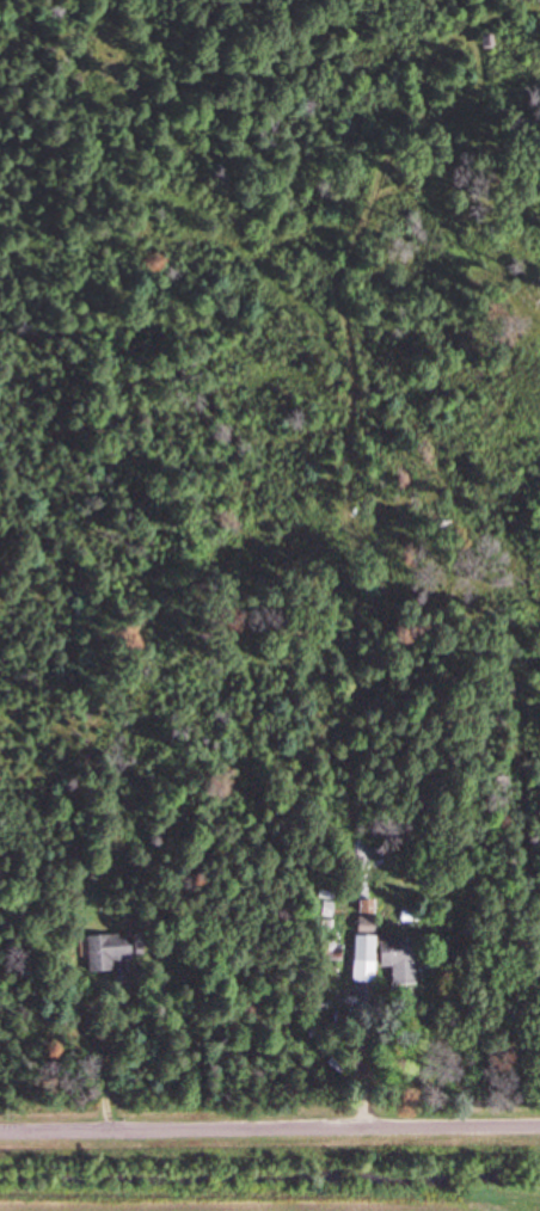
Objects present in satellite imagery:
building: (370, 927)
building: (111, 952)
building: (369, 960)
building: (403, 960)
road: (270, 1129)
crop: (272, 1180)

